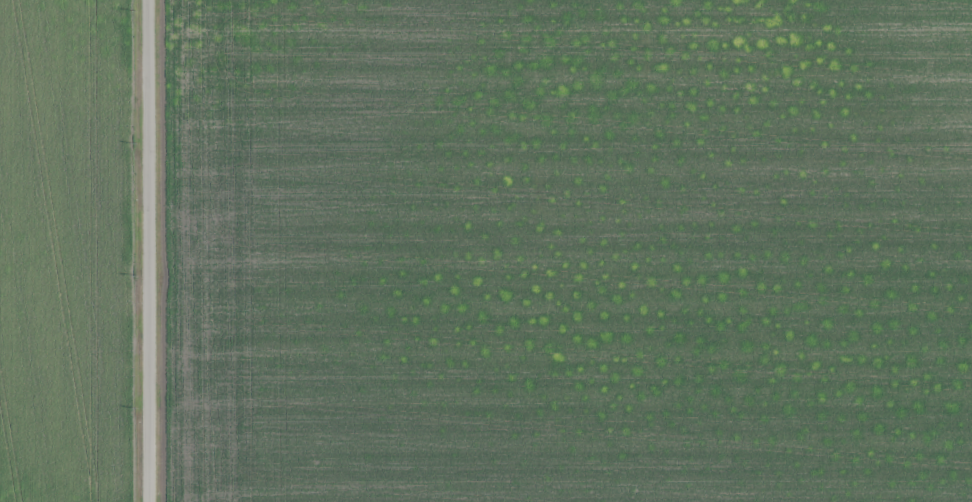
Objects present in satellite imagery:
road: (148, 251)

